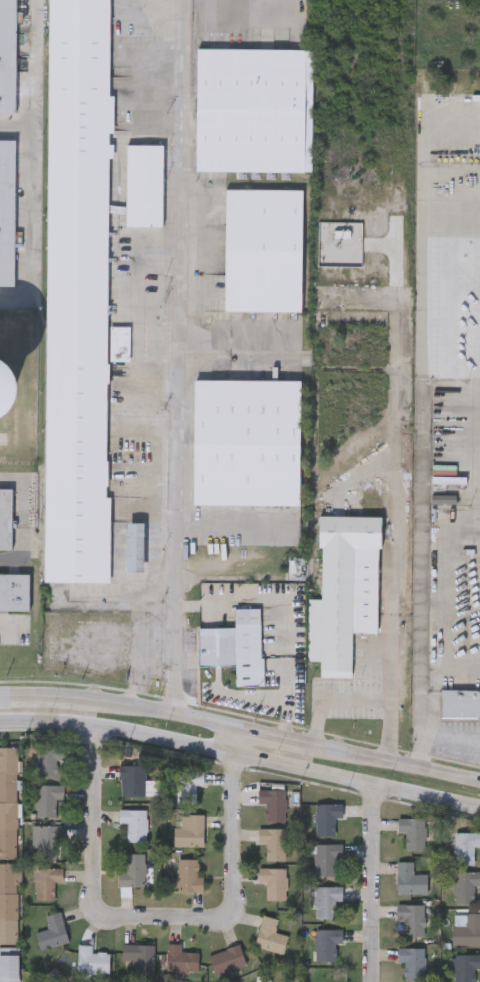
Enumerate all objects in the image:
road: (234, 10)
road: (179, 52)
building: (7, 56)
building: (254, 111)
road: (16, 128)
road: (32, 157)
building: (144, 187)
building: (6, 213)
building: (262, 252)
building: (76, 291)
road: (234, 354)
building: (3, 393)
road: (175, 407)
building: (246, 443)
building: (5, 519)
road: (402, 520)
road: (232, 521)
building: (134, 549)
road: (446, 581)
building: (14, 592)
building: (343, 592)
road: (287, 636)
building: (235, 648)
road: (438, 673)
building: (370, 683)
building: (460, 704)
road: (287, 723)
road: (241, 727)
road: (429, 729)
road: (398, 731)
road: (454, 741)
road: (240, 753)
building: (46, 758)
building: (131, 779)
building: (187, 784)
building: (46, 798)
building: (8, 800)
building: (271, 803)
building: (325, 817)
building: (132, 823)
road: (90, 826)
building: (187, 830)
building: (411, 831)
building: (49, 840)
building: (465, 845)
building: (326, 856)
building: (131, 869)
building: (187, 875)
road: (229, 876)
building: (409, 878)
building: (45, 881)
building: (272, 881)
road: (369, 882)
building: (465, 884)
building: (326, 899)
building: (8, 900)
building: (410, 918)
building: (465, 927)
building: (51, 930)
building: (268, 934)
building: (326, 942)
building: (138, 956)
building: (91, 958)
building: (179, 958)
building: (226, 959)
building: (411, 961)
building: (8, 964)
building: (465, 966)

